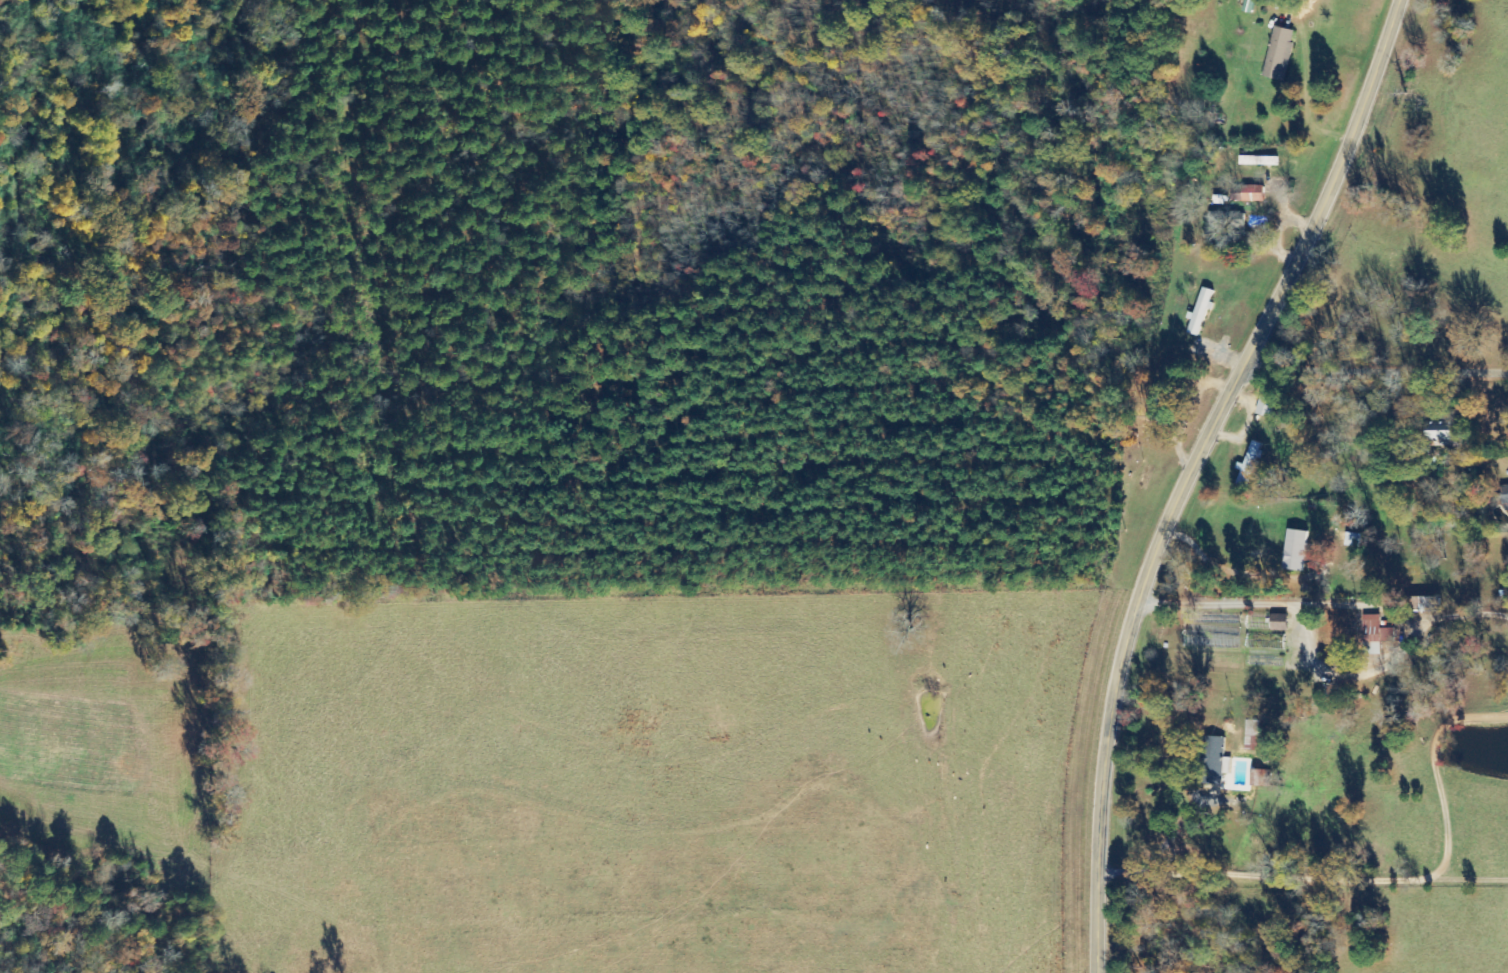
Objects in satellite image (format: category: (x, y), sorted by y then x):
building: (1279, 52)
building: (1259, 160)
building: (1252, 193)
building: (1219, 217)
building: (1201, 310)
road: (1375, 364)
building: (1161, 402)
building: (1266, 406)
building: (1443, 431)
building: (1249, 465)
road: (1189, 470)
building: (1505, 497)
building: (1297, 549)
building: (1429, 604)
building: (1280, 622)
building: (1376, 634)
building: (1252, 733)
building: (1215, 760)

